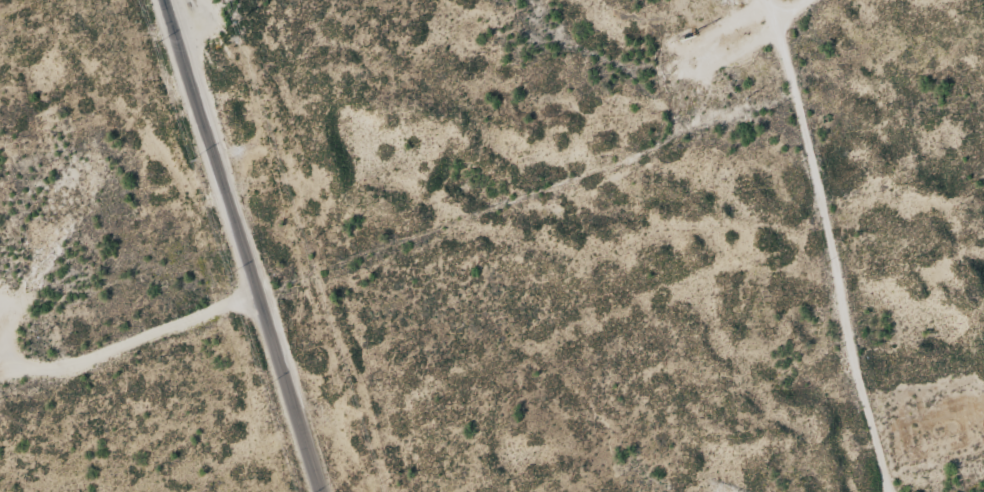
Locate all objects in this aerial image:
road: (746, 34)
road: (788, 151)
road: (525, 231)
road: (236, 246)

